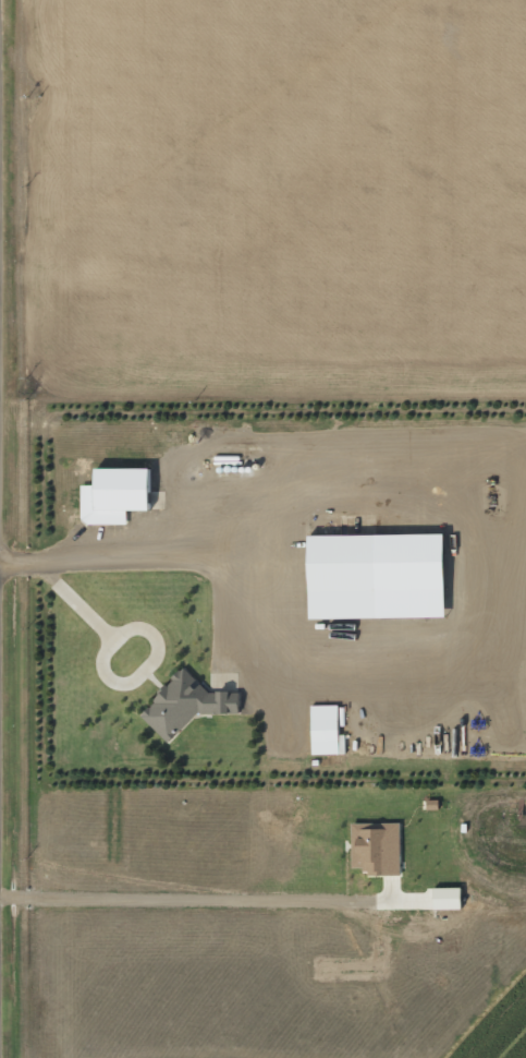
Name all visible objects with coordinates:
road: (341, 434)
building: (115, 482)
road: (135, 549)
building: (378, 561)
road: (338, 670)
building: (186, 692)
building: (326, 720)
building: (374, 847)
building: (445, 898)

